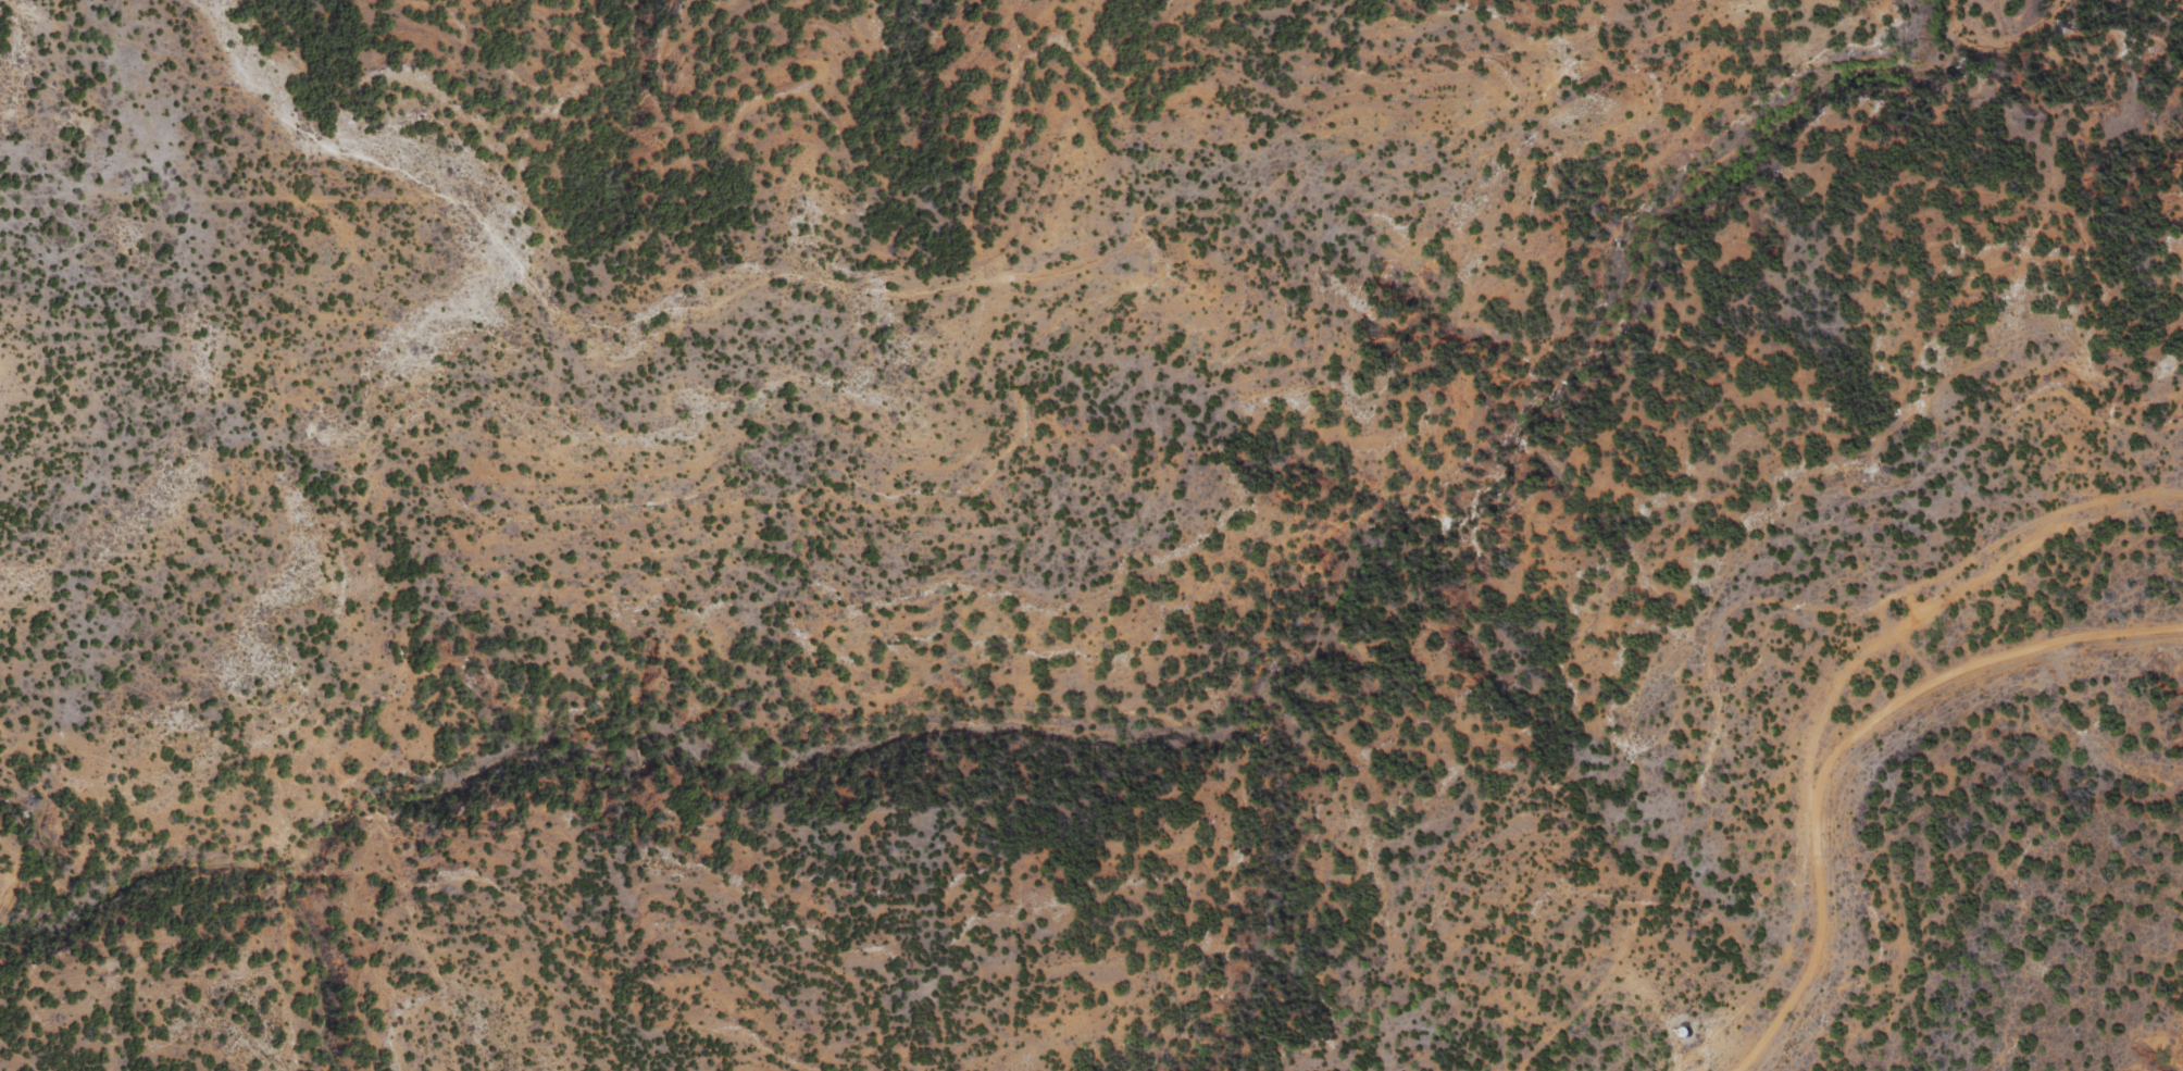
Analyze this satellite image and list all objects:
road: (1853, 759)

